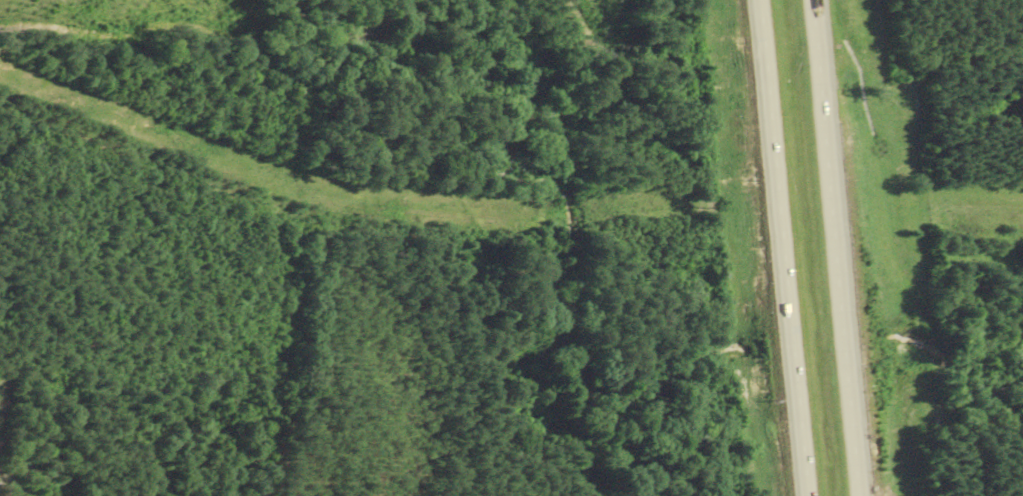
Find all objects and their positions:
road: (784, 247)
road: (836, 248)

